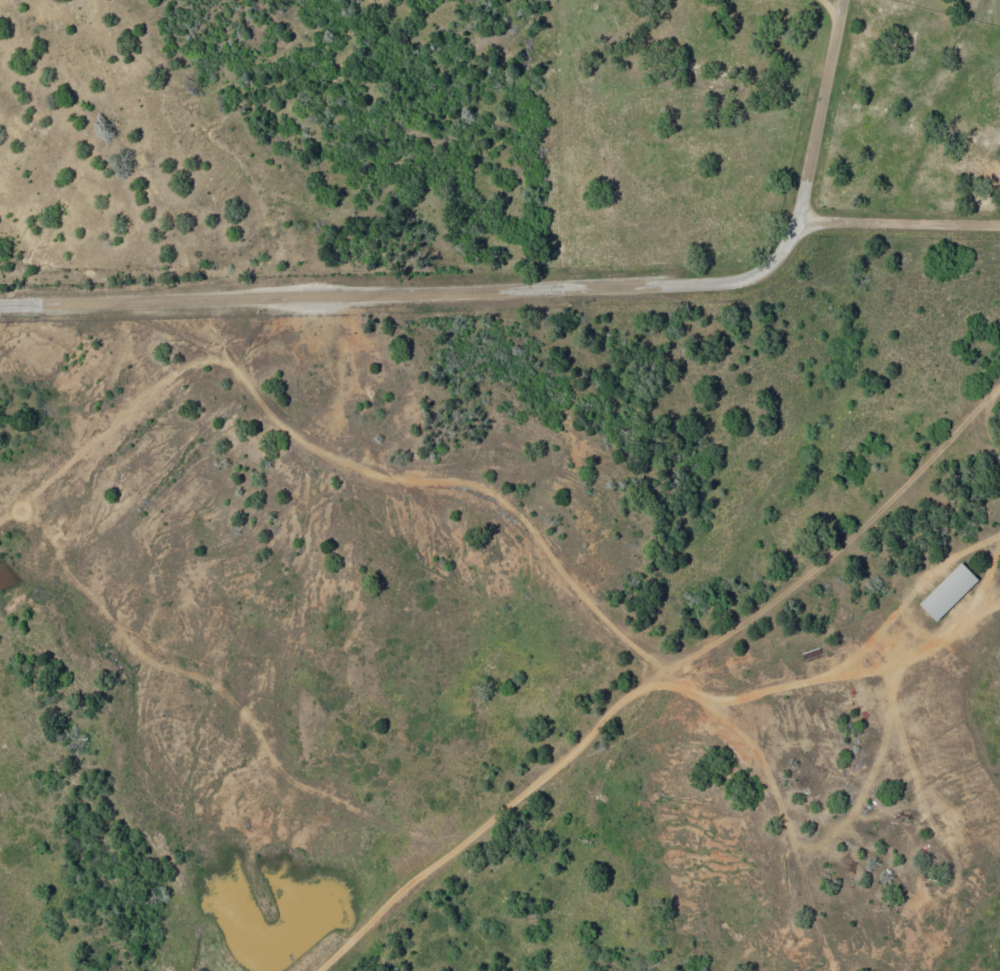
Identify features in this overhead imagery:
road: (899, 219)
road: (527, 286)
building: (948, 592)

